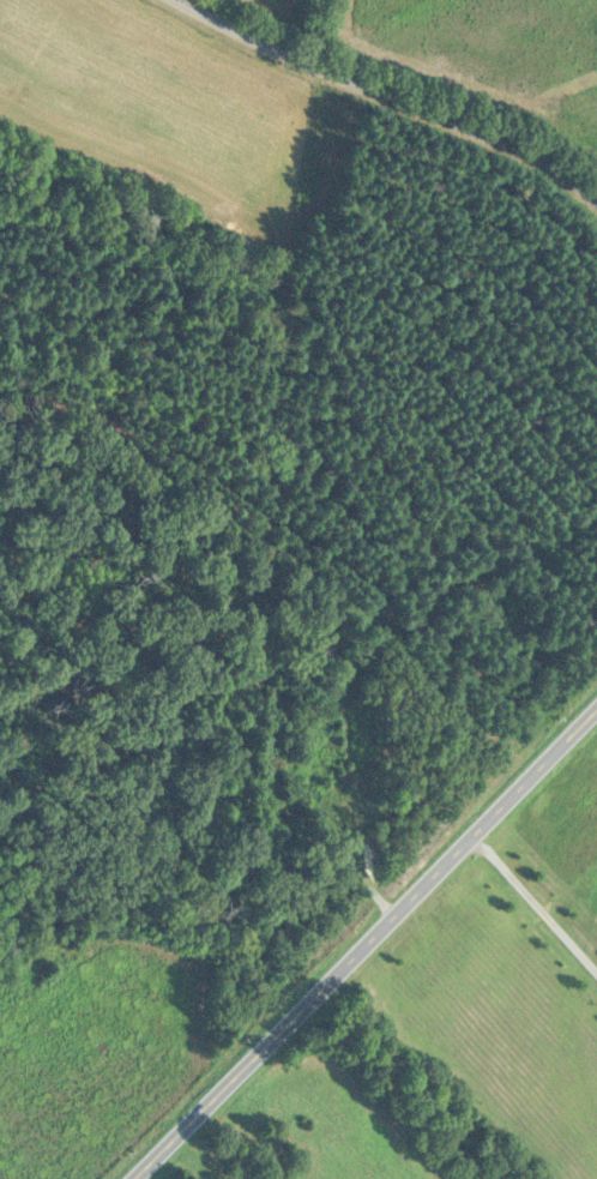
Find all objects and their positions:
airport runway: (114, 90)
road: (388, 97)
road: (533, 902)
road: (363, 943)

